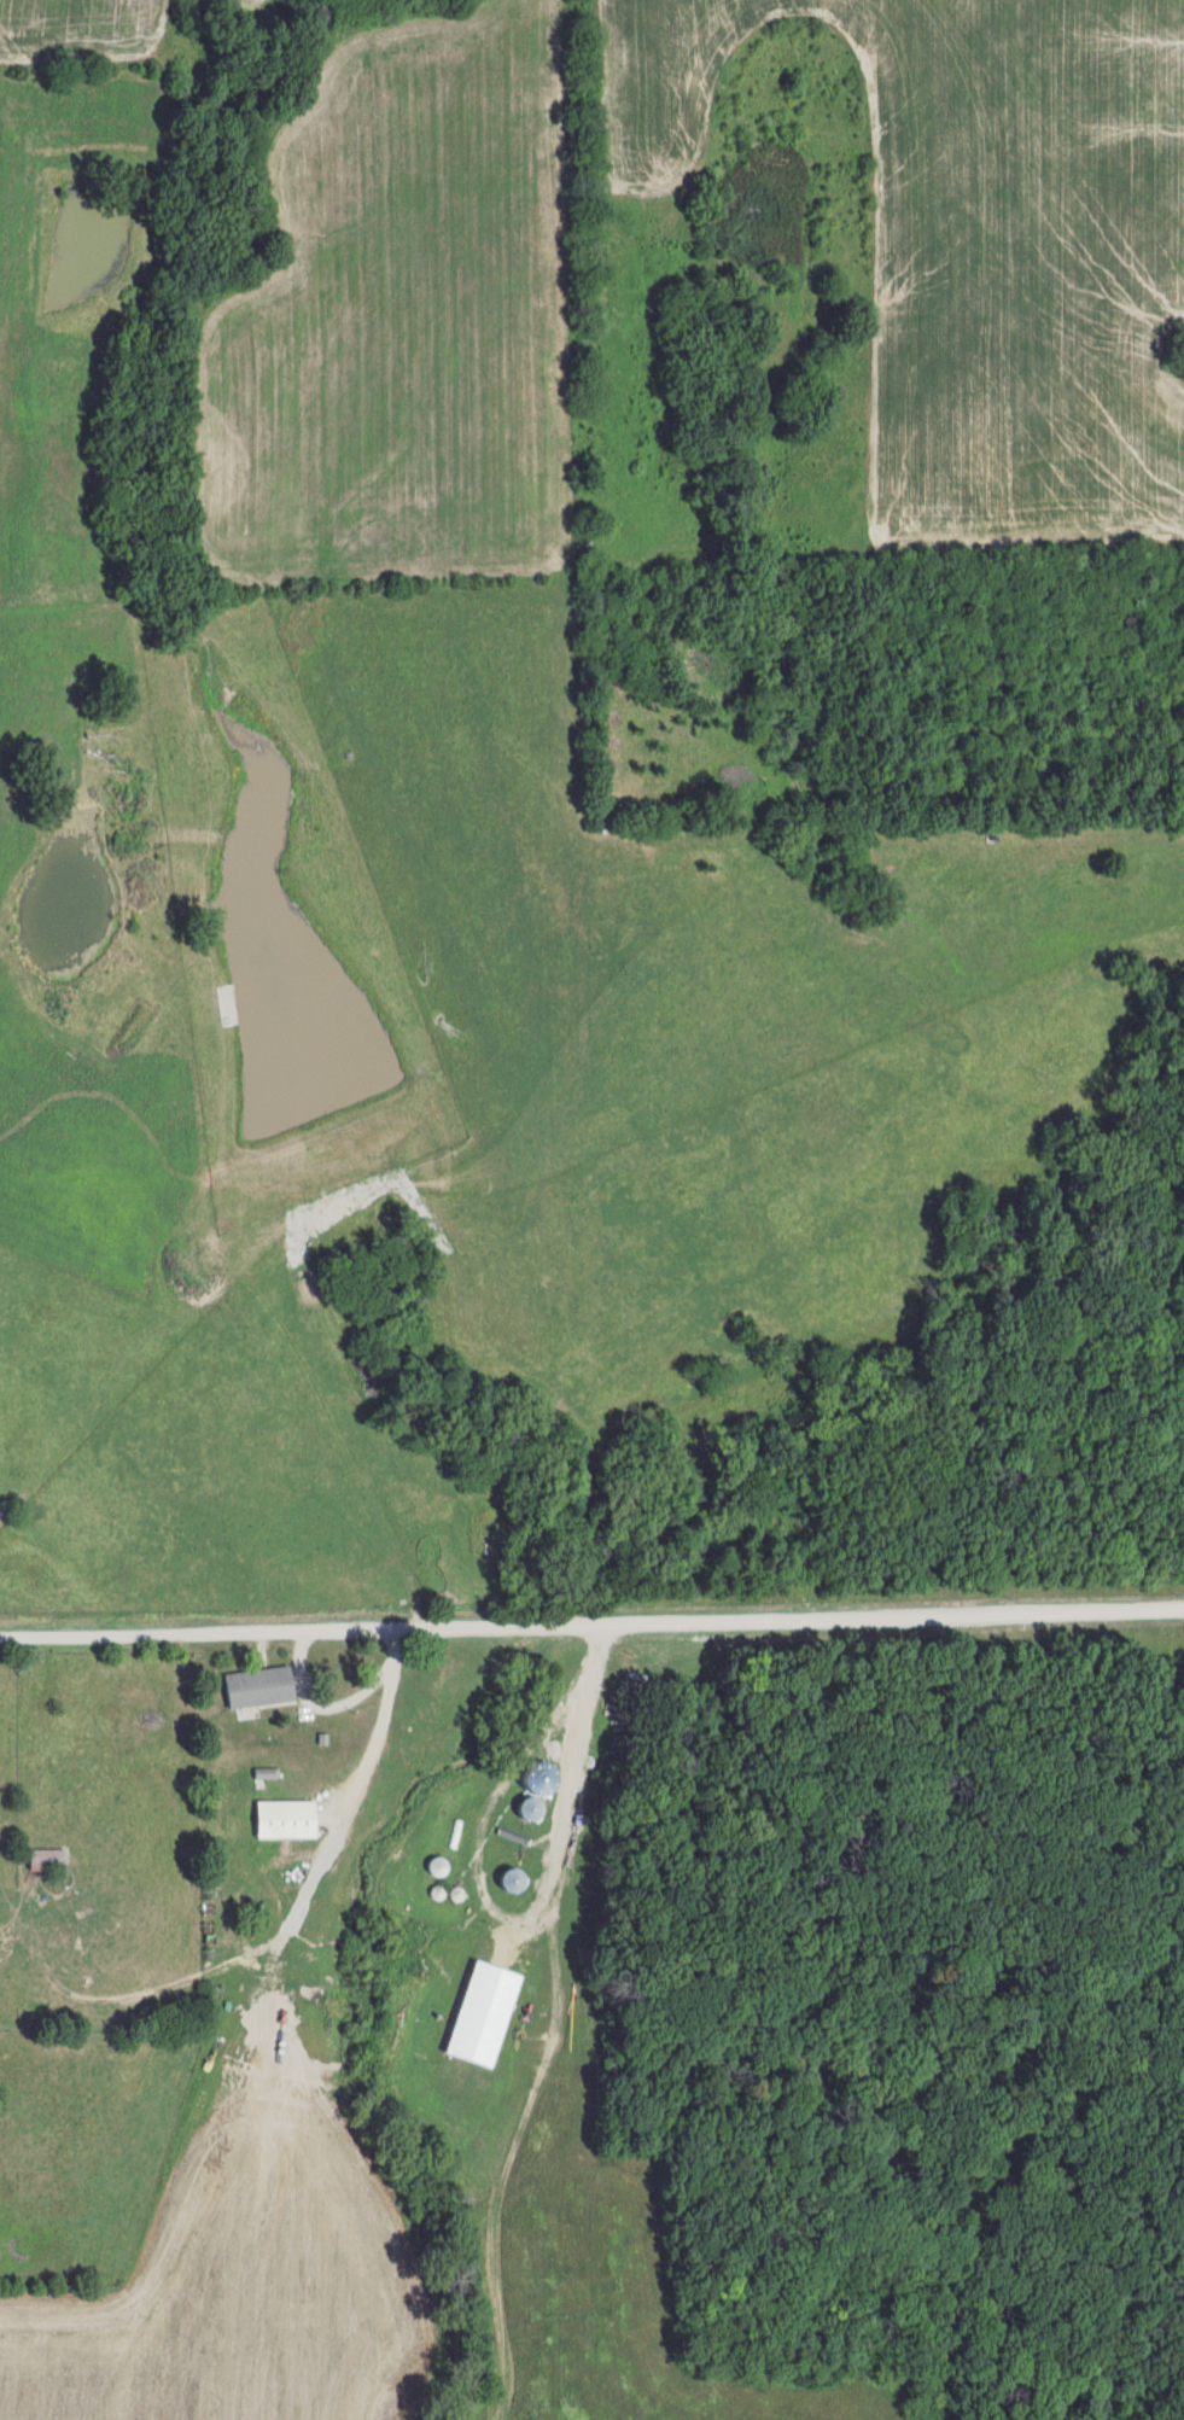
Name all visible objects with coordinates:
road: (591, 1622)
building: (259, 1689)
building: (532, 1809)
building: (287, 1820)
building: (47, 1861)
building: (439, 1867)
building: (515, 1882)

